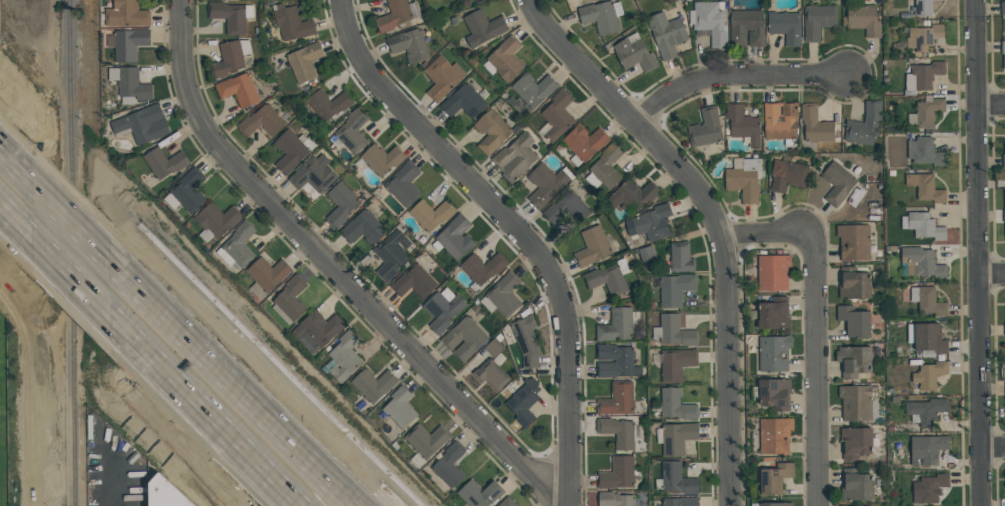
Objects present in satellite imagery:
building: (923, 8)
building: (1002, 8)
building: (126, 14)
building: (397, 15)
building: (229, 16)
building: (602, 17)
building: (863, 19)
building: (710, 21)
building: (817, 21)
building: (291, 23)
building: (785, 26)
building: (482, 27)
building: (747, 27)
building: (666, 34)
building: (923, 38)
building: (128, 43)
building: (409, 44)
building: (1003, 53)
building: (632, 54)
building: (232, 56)
building: (504, 58)
building: (304, 61)
building: (926, 75)
road: (732, 76)
building: (442, 77)
building: (129, 84)
railway: (72, 86)
building: (238, 89)
building: (534, 89)
building: (464, 102)
road: (991, 103)
building: (328, 105)
building: (927, 113)
building: (557, 117)
building: (262, 121)
building: (780, 121)
building: (142, 124)
building: (743, 124)
building: (865, 125)
building: (816, 126)
building: (705, 128)
building: (353, 131)
building: (492, 131)
building: (584, 144)
building: (292, 150)
building: (924, 153)
building: (1003, 157)
building: (516, 158)
building: (382, 159)
building: (165, 162)
road: (15, 168)
building: (604, 169)
building: (314, 173)
building: (786, 175)
building: (744, 180)
building: (403, 183)
building: (837, 183)
building: (547, 184)
building: (924, 188)
building: (188, 190)
building: (633, 195)
building: (340, 205)
building: (566, 209)
building: (431, 215)
building: (1004, 217)
road: (711, 219)
road: (14, 221)
building: (216, 221)
road: (69, 222)
building: (651, 223)
building: (924, 226)
building: (364, 227)
road: (511, 229)
road: (765, 230)
building: (454, 238)
building: (853, 242)
building: (239, 244)
building: (592, 246)
road: (978, 253)
building: (392, 254)
building: (680, 258)
railway: (74, 260)
building: (921, 263)
building: (482, 269)
road: (335, 270)
building: (773, 273)
building: (268, 274)
road: (992, 274)
road: (70, 277)
building: (607, 279)
building: (415, 282)
building: (855, 283)
building: (675, 289)
building: (505, 295)
building: (290, 300)
building: (927, 302)
building: (443, 309)
building: (773, 313)
building: (854, 321)
building: (616, 325)
building: (1004, 329)
building: (317, 331)
building: (675, 331)
building: (464, 337)
building: (928, 339)
building: (526, 342)
building: (774, 353)
building: (344, 355)
building: (615, 361)
building: (854, 361)
building: (676, 364)
road: (812, 370)
building: (491, 375)
building: (928, 375)
road: (231, 383)
building: (372, 384)
building: (1004, 390)
building: (774, 394)
building: (616, 398)
building: (857, 401)
building: (522, 402)
building: (676, 404)
building: (400, 408)
building: (926, 411)
road: (205, 412)
park: (4, 413)
railway: (76, 427)
building: (618, 433)
building: (774, 436)
building: (677, 437)
building: (427, 439)
building: (855, 442)
road: (993, 448)
building: (928, 450)
building: (449, 465)
building: (617, 474)
building: (677, 478)
building: (775, 478)
road: (113, 483)
building: (856, 485)
building: (931, 488)
building: (165, 493)
building: (479, 495)
building: (615, 500)
building: (679, 502)
building: (508, 503)
building: (777, 504)

